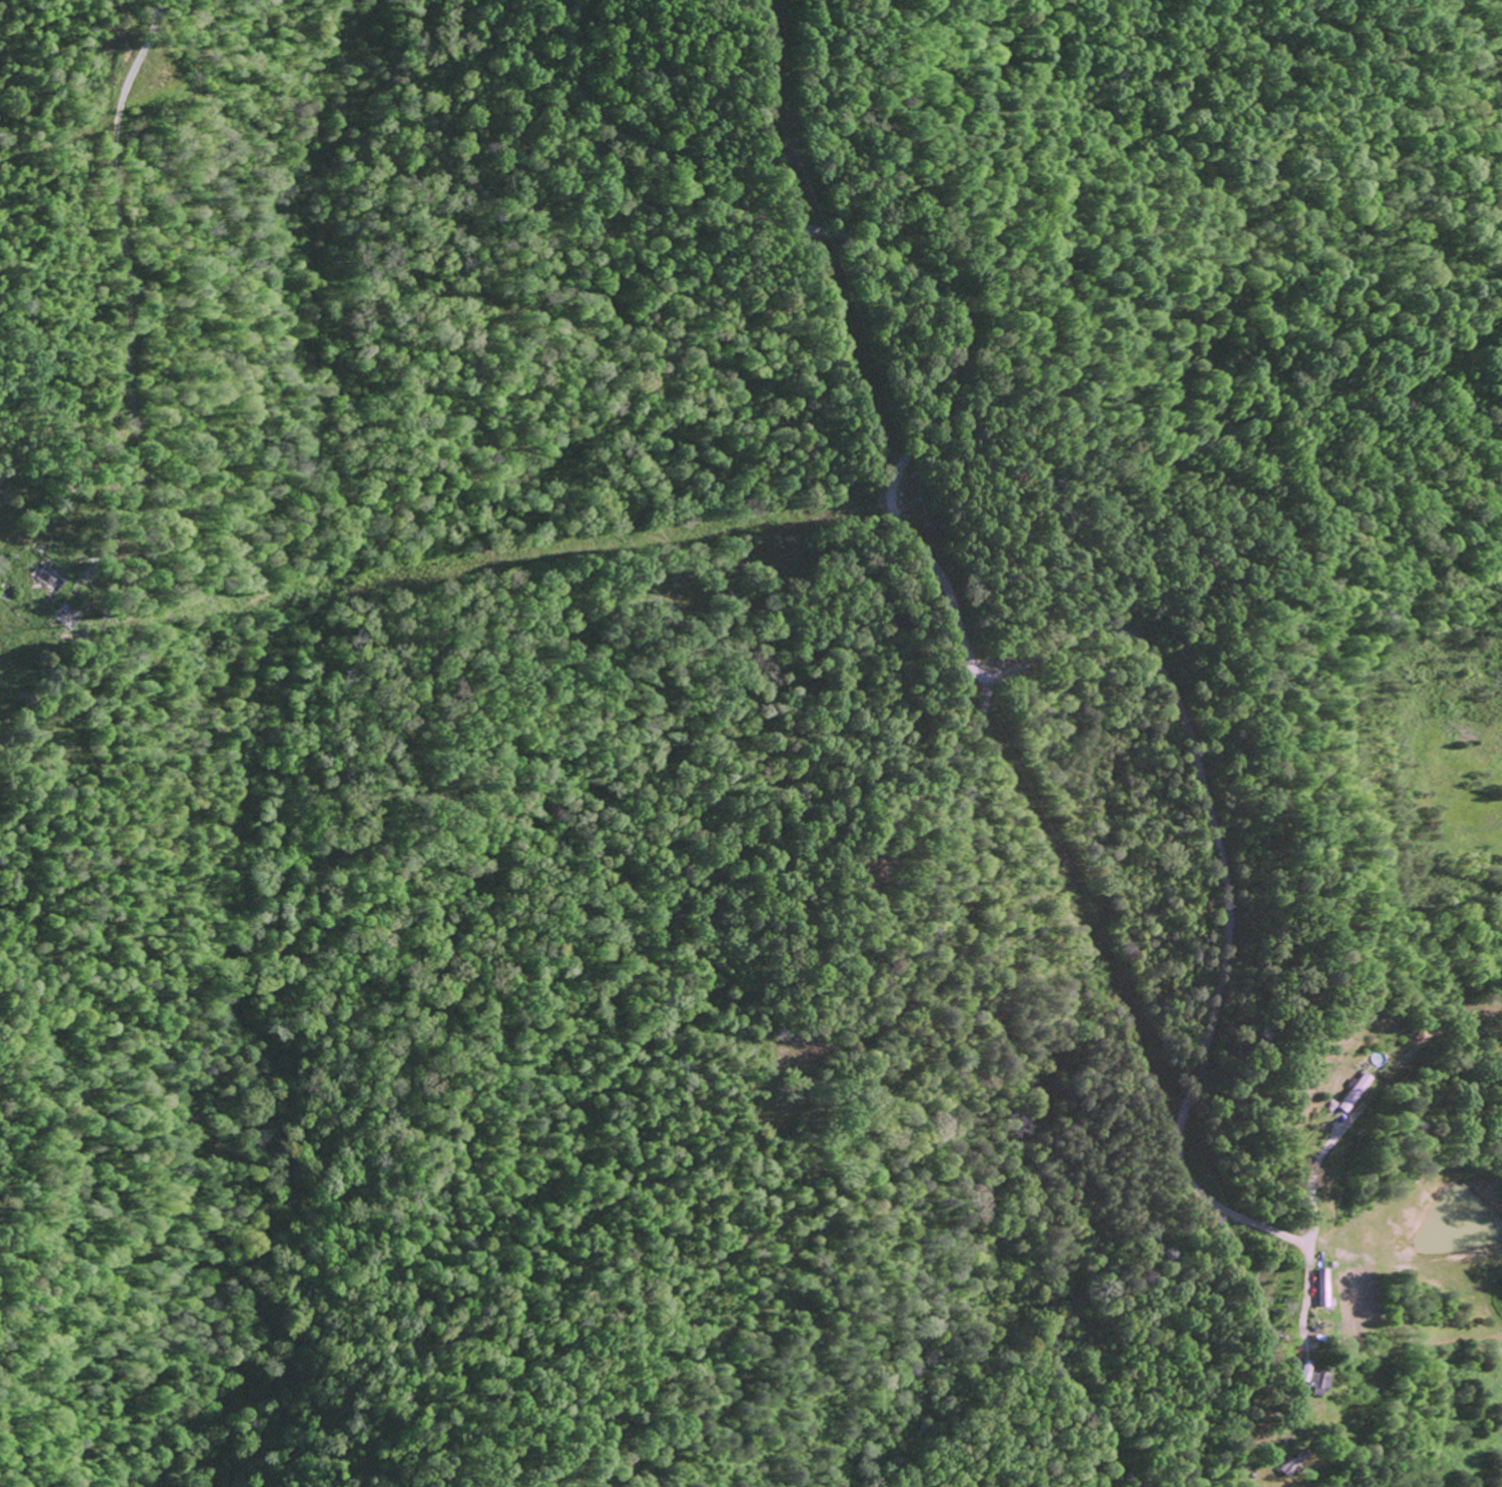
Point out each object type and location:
road: (127, 290)
road: (65, 483)
road: (960, 644)
park: (859, 862)
road: (1265, 1105)
road: (1350, 1124)
road: (1303, 1348)

